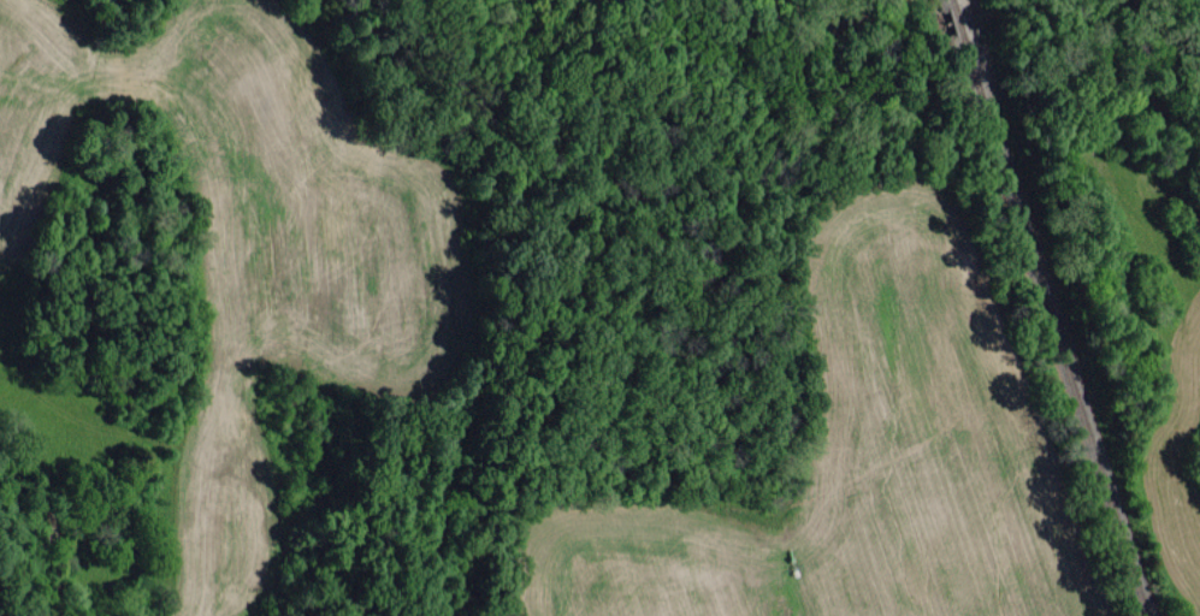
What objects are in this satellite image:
railway: (1019, 307)

